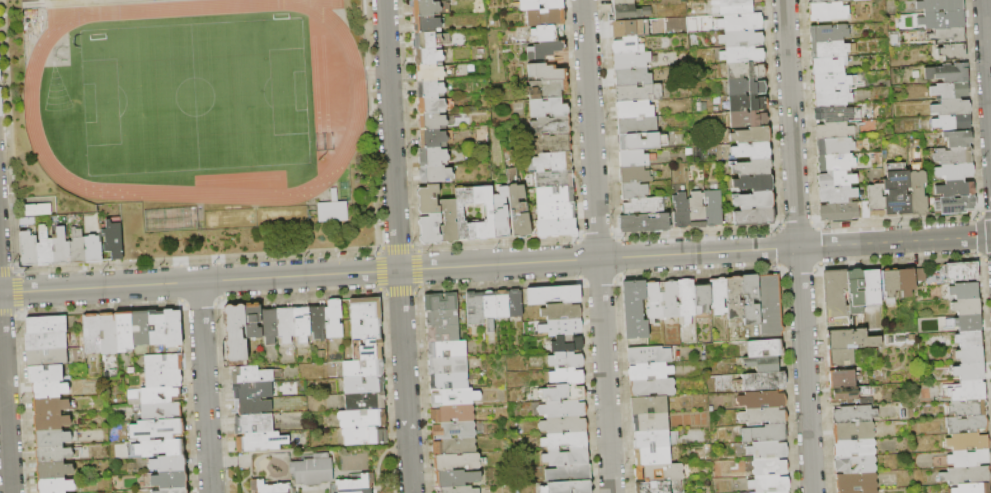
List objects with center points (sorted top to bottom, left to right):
building: (817, 2)
building: (621, 3)
building: (538, 4)
building: (940, 5)
building: (423, 7)
building: (735, 7)
building: (827, 12)
building: (622, 14)
building: (544, 16)
building: (938, 20)
building: (424, 23)
building: (739, 23)
building: (627, 29)
building: (546, 31)
building: (828, 33)
building: (946, 36)
building: (425, 40)
building: (740, 40)
building: (625, 47)
building: (547, 50)
building: (829, 50)
building: (952, 52)
building: (426, 56)
building: (741, 56)
road: (987, 57)
building: (629, 61)
building: (828, 65)
building: (545, 71)
building: (427, 72)
building: (744, 72)
building: (949, 73)
building: (631, 78)
building: (833, 82)
building: (428, 88)
building: (546, 88)
building: (745, 88)
building: (949, 91)
building: (637, 94)
park: (193, 96)
building: (832, 98)
track: (357, 101)
building: (429, 104)
building: (746, 104)
building: (547, 107)
building: (952, 108)
building: (632, 110)
building: (835, 113)
building: (746, 120)
building: (430, 121)
building: (952, 123)
building: (550, 125)
building: (635, 126)
building: (836, 130)
building: (749, 136)
building: (430, 138)
building: (957, 139)
building: (639, 142)
building: (550, 143)
building: (835, 147)
building: (750, 152)
building: (430, 156)
building: (953, 156)
building: (630, 159)
building: (552, 160)
building: (836, 163)
building: (751, 168)
building: (955, 171)
building: (432, 173)
building: (632, 175)
building: (553, 177)
building: (837, 179)
building: (752, 184)
building: (956, 189)
building: (632, 191)
building: (897, 191)
building: (554, 194)
building: (918, 194)
building: (837, 195)
building: (427, 199)
building: (876, 200)
building: (752, 201)
building: (954, 205)
building: (642, 207)
building: (712, 209)
building: (38, 210)
building: (333, 210)
building: (517, 210)
building: (864, 210)
building: (554, 211)
building: (695, 211)
building: (482, 212)
building: (680, 212)
building: (837, 212)
building: (499, 213)
building: (458, 214)
building: (752, 217)
building: (172, 220)
building: (447, 220)
building: (668, 220)
building: (27, 222)
building: (641, 224)
building: (556, 227)
building: (429, 228)
building: (113, 240)
road: (396, 246)
road: (597, 246)
road: (797, 246)
building: (76, 247)
building: (45, 248)
building: (61, 248)
building: (28, 249)
building: (92, 250)
road: (495, 264)
building: (961, 272)
building: (920, 276)
building: (906, 282)
building: (890, 285)
building: (856, 288)
building: (871, 289)
building: (964, 291)
building: (554, 295)
building: (718, 296)
building: (702, 298)
building: (734, 298)
building: (835, 299)
building: (669, 300)
building: (686, 300)
building: (750, 300)
building: (440, 302)
building: (653, 302)
building: (515, 303)
building: (502, 304)
building: (770, 305)
building: (967, 307)
building: (474, 308)
building: (365, 309)
building: (489, 309)
building: (634, 310)
building: (562, 312)
building: (334, 319)
building: (442, 319)
building: (253, 320)
building: (317, 321)
building: (968, 323)
building: (46, 324)
building: (302, 324)
building: (269, 325)
building: (285, 325)
building: (156, 327)
building: (140, 328)
building: (172, 328)
building: (562, 329)
building: (366, 330)
building: (124, 331)
building: (108, 333)
building: (235, 333)
building: (92, 334)
building: (442, 335)
building: (850, 339)
building: (969, 340)
building: (46, 341)
building: (567, 345)
building: (764, 349)
building: (367, 350)
building: (447, 350)
building: (649, 355)
building: (970, 356)
building: (46, 357)
building: (842, 357)
building: (566, 360)
building: (163, 362)
building: (762, 363)
building: (448, 366)
building: (362, 368)
building: (650, 372)
building: (969, 372)
building: (45, 374)
building: (250, 375)
building: (567, 376)
building: (163, 378)
building: (843, 378)
building: (449, 382)
building: (760, 382)
building: (364, 384)
road: (203, 387)
building: (652, 388)
building: (49, 390)
building: (252, 390)
building: (966, 391)
building: (568, 392)
building: (850, 393)
building: (154, 395)
building: (454, 397)
building: (762, 400)
road: (5, 401)
building: (365, 401)
building: (648, 405)
building: (52, 406)
building: (252, 406)
building: (968, 408)
building: (563, 409)
building: (161, 411)
building: (452, 414)
building: (854, 414)
building: (763, 416)
building: (362, 418)
building: (50, 422)
building: (650, 423)
building: (254, 424)
building: (967, 424)
building: (564, 425)
building: (157, 429)
building: (453, 430)
building: (853, 431)
building: (908, 433)
building: (765, 434)
building: (365, 436)
building: (55, 437)
building: (655, 440)
building: (566, 441)
building: (968, 441)
building: (261, 442)
road: (399, 444)
building: (454, 446)
building: (160, 448)
building: (854, 448)
building: (767, 450)
building: (55, 454)
building: (652, 456)
road: (380, 457)
building: (566, 458)
building: (969, 458)
building: (456, 462)
building: (167, 463)
building: (770, 466)
building: (866, 466)
building: (313, 470)
building: (54, 471)
building: (570, 473)
building: (672, 473)
building: (967, 476)
building: (167, 478)
building: (456, 478)
building: (856, 482)
building: (769, 483)
building: (357, 485)
building: (55, 486)
building: (269, 487)
building: (570, 487)
building: (658, 487)
building: (972, 488)
building: (173, 489)
building: (457, 490)
building: (870, 491)
building: (761, 492)
building: (778, 492)
building: (849, 492)

